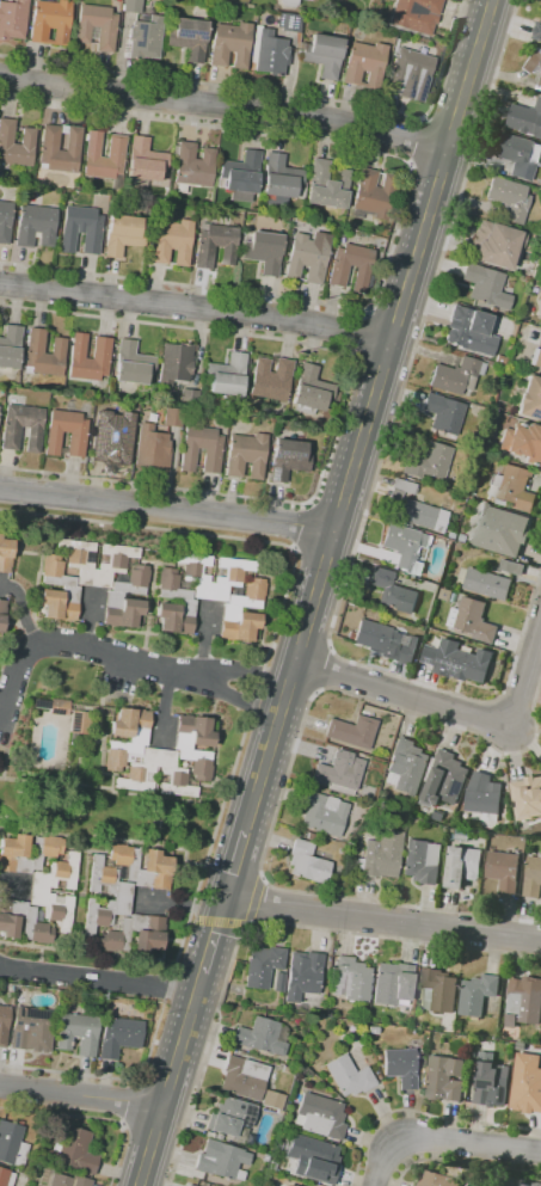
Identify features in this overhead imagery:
building: (288, 2)
building: (130, 6)
building: (414, 16)
building: (12, 19)
building: (50, 21)
building: (290, 23)
building: (96, 27)
building: (537, 31)
building: (187, 37)
building: (143, 38)
building: (230, 44)
building: (269, 53)
building: (324, 55)
building: (534, 62)
building: (364, 64)
building: (410, 74)
building: (540, 82)
road: (275, 91)
road: (225, 106)
building: (525, 117)
road: (450, 130)
road: (412, 142)
building: (16, 145)
building: (60, 148)
building: (520, 154)
building: (104, 158)
building: (145, 162)
building: (191, 167)
road: (437, 168)
building: (240, 176)
building: (279, 180)
building: (326, 185)
building: (373, 195)
building: (508, 197)
road: (396, 219)
building: (5, 221)
building: (35, 226)
building: (80, 229)
building: (288, 232)
building: (122, 233)
building: (171, 241)
building: (494, 244)
building: (214, 245)
building: (263, 251)
building: (306, 259)
building: (338, 272)
building: (485, 287)
building: (540, 300)
road: (196, 312)
building: (469, 331)
road: (356, 336)
building: (10, 349)
building: (100, 349)
building: (43, 354)
building: (535, 356)
building: (490, 363)
building: (174, 364)
building: (131, 365)
building: (456, 376)
building: (227, 377)
building: (271, 379)
building: (312, 391)
building: (187, 399)
building: (530, 399)
road: (340, 410)
building: (443, 413)
building: (150, 417)
building: (172, 417)
road: (368, 417)
building: (221, 419)
building: (10, 438)
building: (111, 438)
building: (75, 441)
building: (523, 443)
building: (150, 448)
building: (201, 449)
building: (245, 455)
building: (287, 459)
building: (429, 462)
road: (376, 473)
building: (402, 486)
building: (512, 487)
road: (166, 509)
building: (413, 512)
road: (294, 526)
building: (499, 530)
building: (450, 536)
building: (405, 547)
building: (5, 555)
building: (512, 566)
building: (110, 577)
building: (485, 582)
building: (69, 589)
building: (393, 592)
building: (445, 594)
building: (209, 595)
road: (21, 610)
building: (1, 613)
road: (88, 619)
building: (473, 620)
building: (148, 621)
road: (204, 639)
building: (386, 641)
road: (117, 656)
building: (459, 660)
road: (324, 669)
road: (454, 707)
road: (165, 708)
road: (2, 709)
building: (72, 713)
building: (352, 732)
road: (241, 741)
building: (159, 754)
building: (407, 767)
building: (339, 773)
road: (287, 776)
building: (444, 779)
building: (484, 795)
building: (528, 797)
building: (322, 813)
building: (438, 815)
building: (460, 834)
building: (13, 854)
building: (380, 856)
building: (422, 860)
building: (307, 862)
building: (462, 865)
building: (142, 866)
road: (233, 868)
building: (504, 869)
building: (533, 877)
road: (14, 886)
building: (38, 891)
building: (122, 896)
road: (179, 904)
road: (382, 917)
building: (21, 922)
road: (258, 923)
building: (134, 934)
road: (213, 939)
building: (262, 966)
building: (302, 975)
building: (351, 979)
road: (98, 981)
building: (279, 983)
building: (393, 984)
building: (439, 989)
building: (478, 994)
building: (523, 1001)
building: (459, 1021)
building: (4, 1024)
building: (459, 1028)
building: (31, 1030)
building: (373, 1031)
building: (76, 1033)
building: (118, 1037)
building: (262, 1037)
building: (377, 1058)
building: (291, 1064)
building: (400, 1067)
building: (285, 1070)
building: (349, 1076)
building: (242, 1077)
road: (170, 1079)
building: (444, 1079)
building: (491, 1083)
building: (527, 1083)
road: (81, 1095)
building: (271, 1100)
road: (125, 1102)
road: (422, 1113)
building: (320, 1116)
building: (230, 1117)
road: (91, 1118)
road: (444, 1138)
building: (12, 1143)
building: (276, 1147)
building: (75, 1151)
building: (313, 1159)
building: (221, 1160)
road: (461, 1162)
building: (271, 1166)
building: (456, 1170)
building: (6, 1178)
building: (438, 1179)
building: (68, 1181)
building: (287, 1184)
building: (525, 1184)
building: (537, 1184)
building: (190, 1185)

